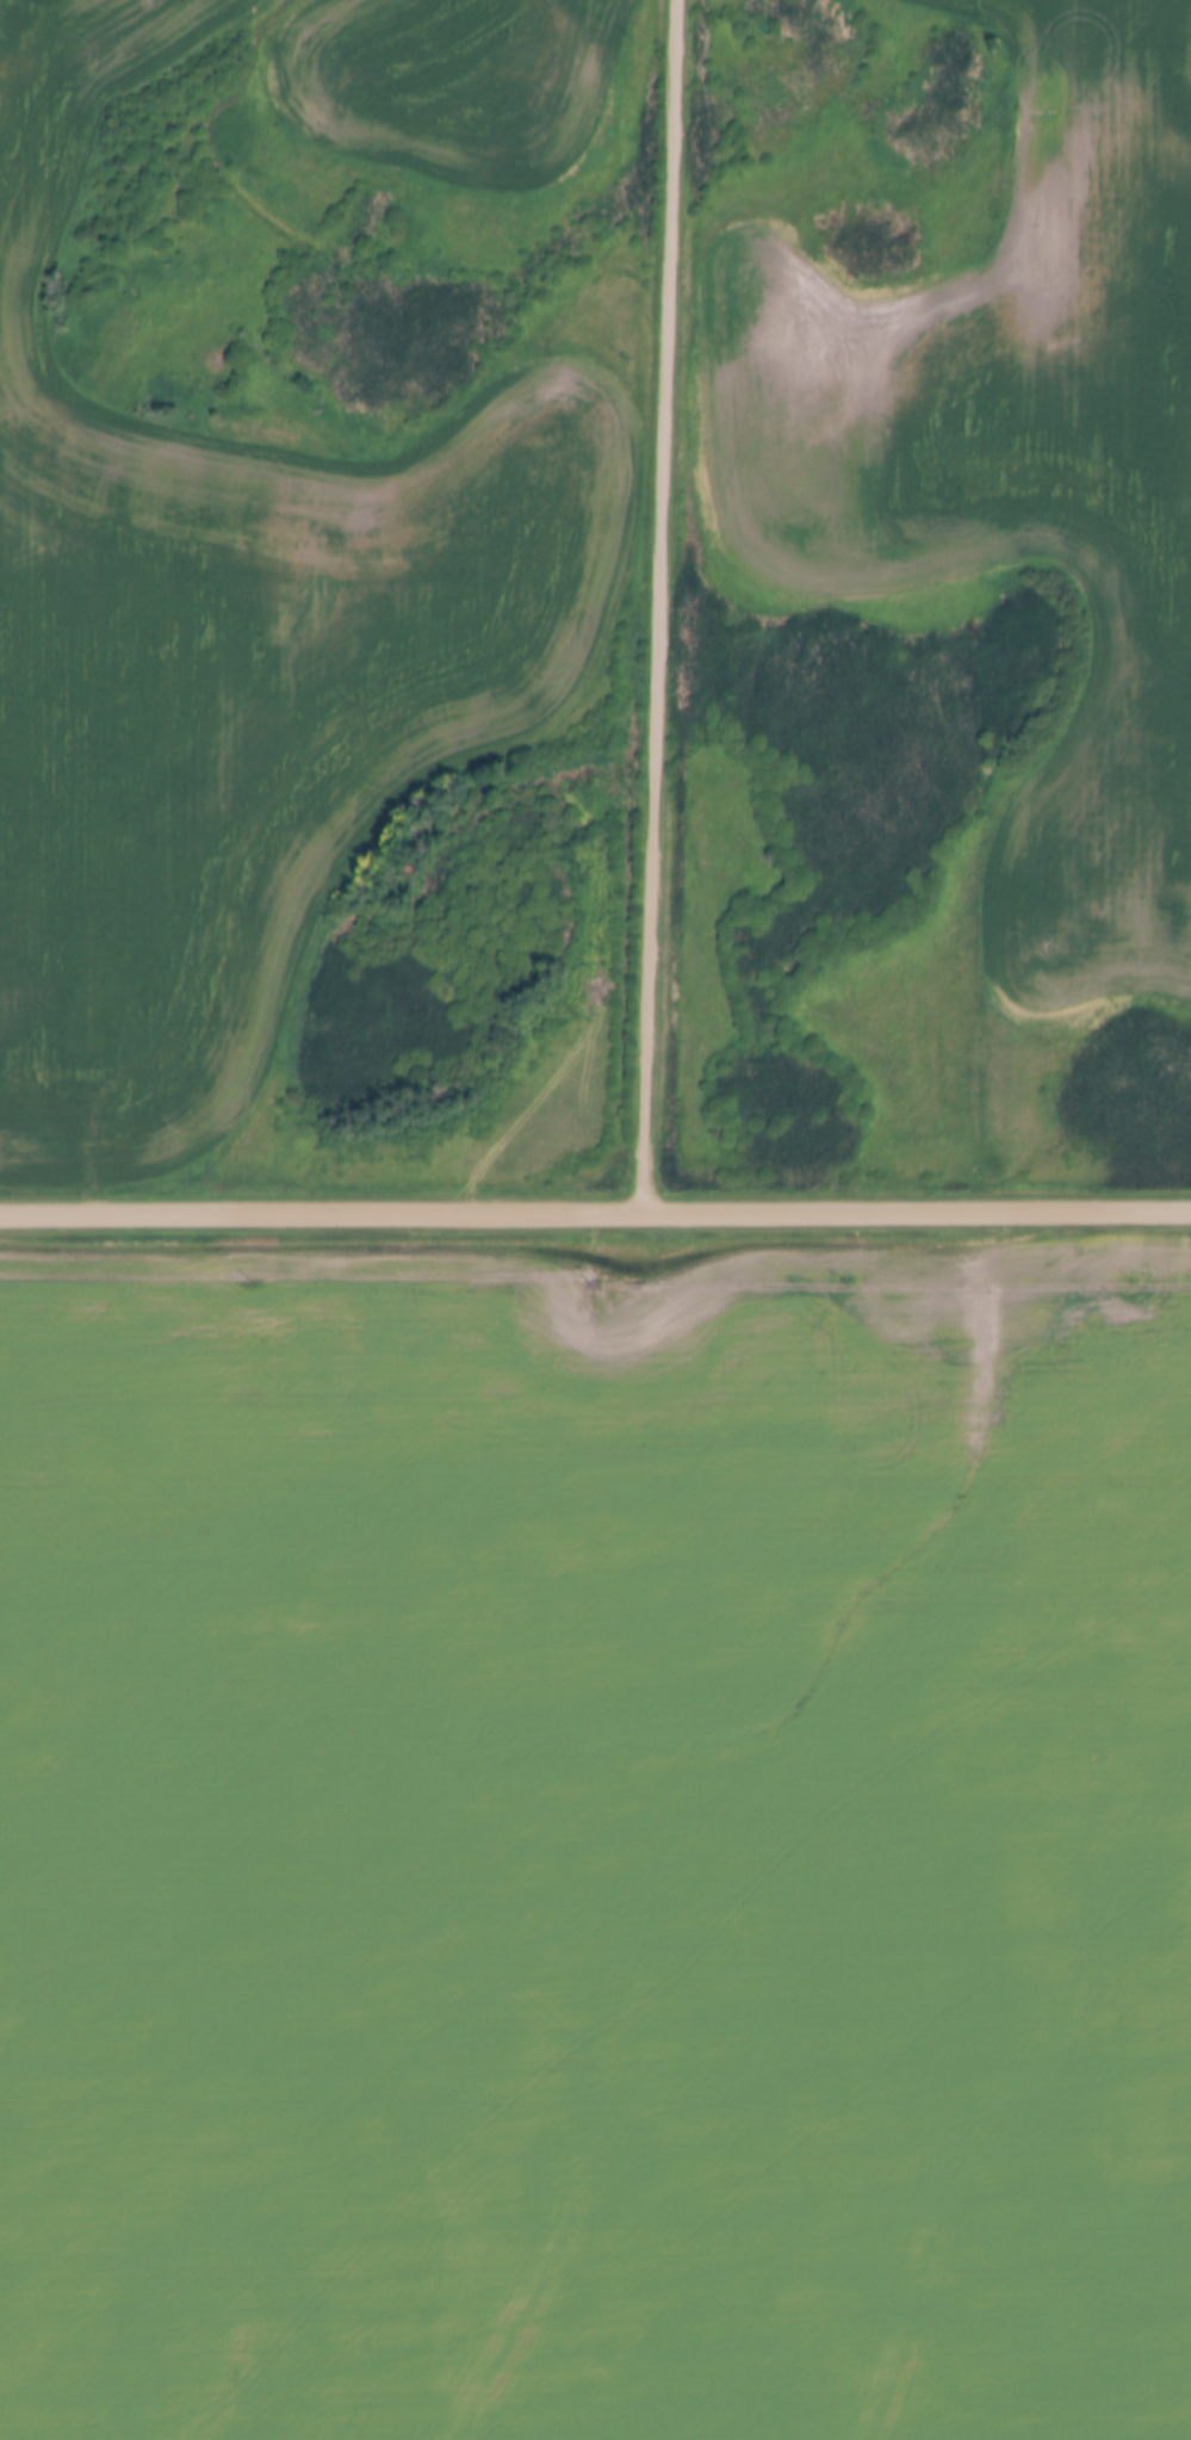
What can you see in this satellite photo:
road: (663, 603)
road: (595, 1207)

